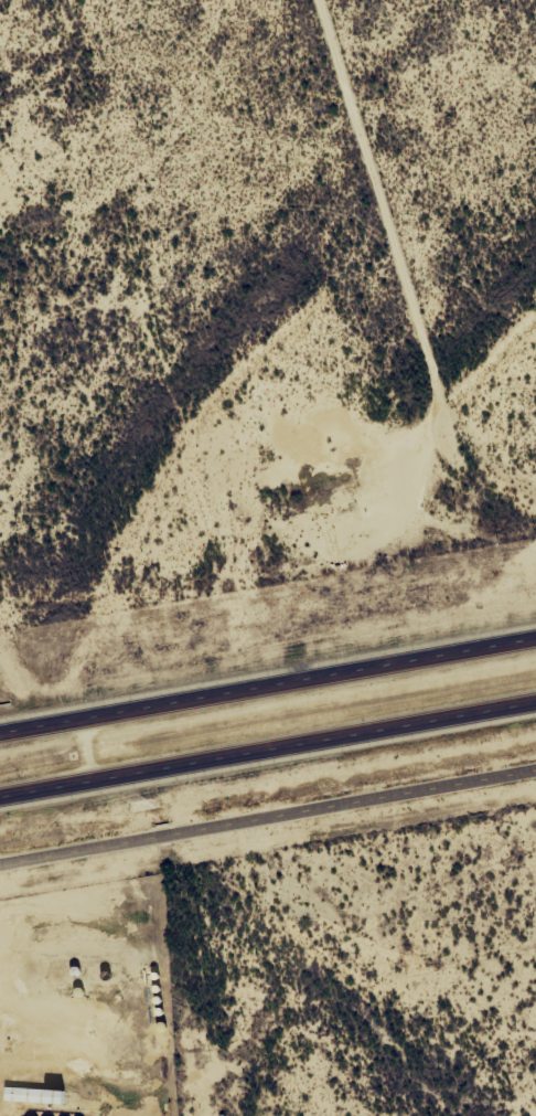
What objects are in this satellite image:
road: (268, 685)
road: (268, 745)
road: (268, 815)
building: (41, 1095)

